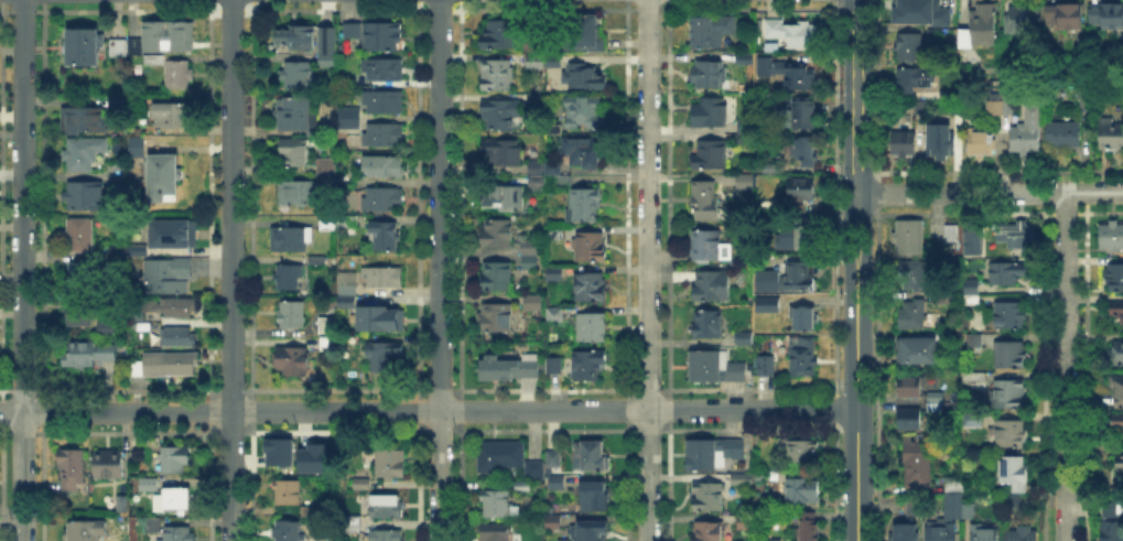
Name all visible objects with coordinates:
building: (918, 12)
building: (1066, 17)
building: (1108, 17)
building: (1024, 20)
building: (981, 26)
building: (583, 32)
building: (712, 32)
building: (791, 33)
building: (501, 34)
building: (169, 35)
building: (376, 36)
building: (296, 39)
building: (328, 42)
building: (85, 45)
building: (136, 45)
building: (119, 47)
building: (909, 47)
building: (153, 61)
building: (534, 62)
building: (553, 62)
building: (384, 71)
building: (179, 74)
building: (709, 74)
building: (788, 74)
building: (498, 76)
building: (300, 77)
building: (581, 77)
building: (913, 80)
road: (856, 97)
building: (539, 98)
building: (1082, 100)
building: (385, 102)
building: (919, 105)
building: (995, 107)
building: (586, 112)
building: (710, 113)
building: (293, 115)
building: (500, 115)
building: (806, 115)
building: (171, 117)
building: (345, 118)
building: (85, 121)
building: (743, 123)
building: (554, 129)
building: (1027, 131)
building: (1109, 132)
building: (384, 136)
building: (1063, 136)
building: (981, 143)
building: (905, 144)
building: (941, 144)
building: (138, 148)
building: (295, 152)
building: (501, 152)
building: (584, 153)
building: (806, 153)
building: (79, 156)
building: (710, 156)
building: (536, 165)
building: (381, 167)
building: (771, 167)
building: (327, 169)
building: (163, 176)
building: (745, 184)
building: (536, 185)
building: (802, 190)
road: (989, 192)
building: (301, 194)
building: (86, 196)
building: (504, 198)
building: (384, 201)
building: (706, 202)
building: (584, 204)
building: (327, 223)
building: (1013, 231)
building: (170, 232)
road: (846, 232)
road: (865, 232)
building: (952, 234)
building: (80, 235)
building: (497, 235)
building: (558, 235)
building: (386, 237)
building: (805, 237)
building: (909, 237)
building: (1112, 237)
building: (970, 239)
building: (291, 240)
building: (529, 247)
building: (591, 247)
building: (709, 247)
building: (119, 249)
building: (138, 250)
building: (316, 259)
building: (530, 264)
road: (22, 270)
road: (231, 270)
road: (440, 270)
road: (648, 270)
building: (1007, 272)
building: (555, 275)
building: (913, 275)
building: (168, 277)
building: (82, 278)
building: (289, 278)
building: (384, 278)
building: (497, 278)
building: (799, 278)
building: (1114, 278)
building: (770, 282)
building: (349, 284)
building: (712, 286)
building: (971, 286)
building: (591, 289)
building: (345, 301)
building: (533, 305)
building: (770, 305)
building: (180, 307)
building: (1115, 309)
building: (78, 314)
building: (557, 314)
building: (913, 315)
building: (1011, 315)
building: (293, 316)
building: (497, 318)
building: (800, 318)
building: (380, 321)
building: (327, 325)
building: (708, 325)
building: (107, 327)
building: (591, 328)
building: (177, 337)
building: (744, 338)
building: (975, 343)
building: (327, 344)
building: (918, 351)
building: (1116, 353)
building: (88, 354)
building: (386, 354)
building: (1009, 356)
building: (803, 357)
building: (294, 361)
building: (171, 364)
building: (589, 366)
building: (766, 366)
road: (1065, 366)
building: (555, 367)
building: (138, 368)
building: (509, 368)
building: (714, 369)
building: (970, 379)
building: (909, 386)
building: (1117, 388)
building: (1008, 396)
building: (935, 402)
road: (856, 405)
road: (429, 411)
building: (909, 418)
building: (973, 421)
building: (1117, 421)
building: (1011, 434)
building: (735, 448)
building: (277, 451)
building: (802, 451)
building: (703, 456)
building: (310, 457)
building: (592, 457)
building: (500, 458)
building: (553, 458)
building: (177, 462)
building: (916, 462)
building: (390, 464)
building: (1119, 464)
building: (109, 465)
building: (72, 468)
building: (534, 470)
building: (1015, 473)
building: (951, 480)
building: (557, 482)
building: (148, 483)
building: (360, 484)
building: (288, 491)
building: (802, 493)
building: (596, 497)
building: (711, 497)
building: (177, 500)
building: (1009, 501)
building: (122, 504)
building: (496, 504)
building: (386, 508)
building: (915, 508)
building: (955, 508)
building: (743, 520)
building: (553, 522)
building: (1112, 523)
building: (153, 526)
building: (809, 528)
building: (86, 530)
building: (942, 530)
building: (288, 531)
building: (593, 532)
building: (708, 532)
building: (906, 532)
building: (498, 533)
building: (983, 533)
building: (1022, 533)
building: (177, 534)
building: (387, 534)
building: (774, 539)
building: (110, 540)

